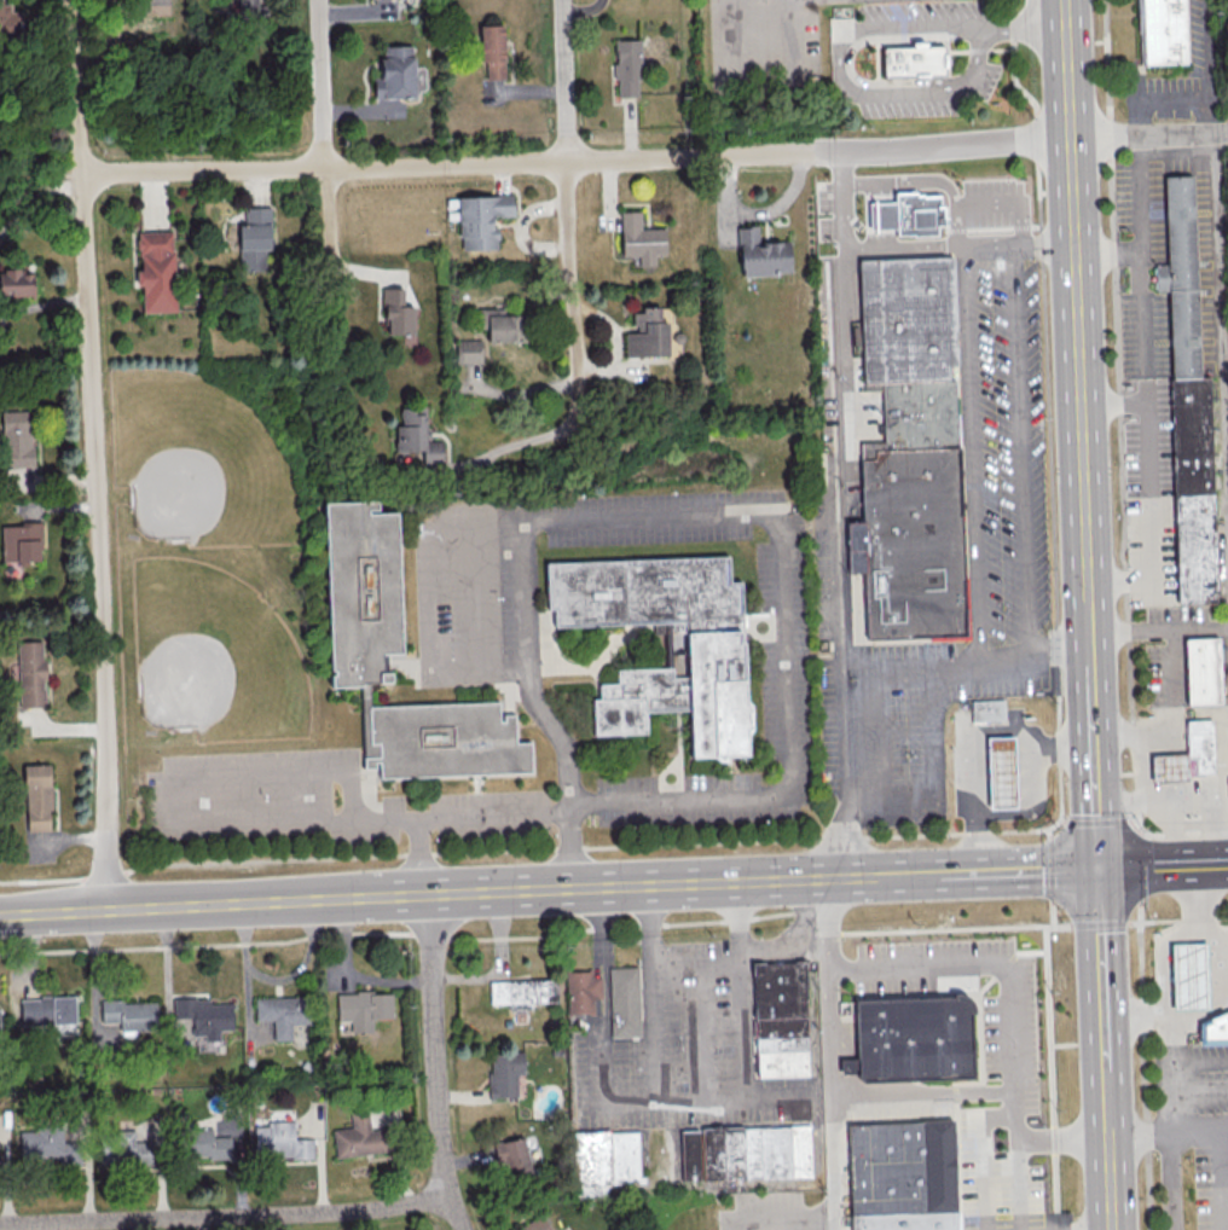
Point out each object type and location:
building: (153, 1)
building: (250, 8)
building: (8, 21)
road: (917, 27)
road: (1038, 29)
road: (997, 30)
building: (1165, 31)
building: (492, 50)
building: (914, 60)
road: (1209, 66)
building: (626, 68)
building: (398, 74)
road: (767, 83)
road: (904, 92)
road: (1152, 98)
road: (324, 117)
road: (654, 158)
road: (40, 175)
road: (927, 180)
road: (1136, 195)
road: (35, 202)
road: (1008, 203)
road: (569, 214)
building: (910, 219)
building: (481, 220)
building: (254, 238)
building: (641, 239)
road: (1044, 244)
road: (991, 246)
road: (904, 248)
building: (761, 254)
building: (156, 271)
building: (18, 284)
road: (1140, 292)
road: (1076, 300)
road: (42, 306)
building: (396, 313)
building: (502, 325)
building: (647, 335)
road: (1220, 335)
building: (468, 350)
building: (1188, 400)
road: (1047, 413)
road: (1120, 418)
building: (416, 435)
building: (16, 439)
road: (506, 447)
road: (1023, 449)
road: (972, 453)
road: (92, 454)
building: (914, 454)
park: (201, 462)
road: (1148, 489)
road: (839, 514)
building: (21, 543)
park: (214, 555)
building: (365, 585)
road: (784, 591)
road: (429, 605)
road: (1158, 629)
road: (1089, 631)
building: (717, 648)
road: (1033, 652)
park: (215, 655)
road: (913, 671)
building: (1205, 672)
building: (30, 673)
building: (987, 713)
road: (1170, 715)
road: (543, 718)
road: (971, 732)
road: (1170, 739)
building: (1201, 747)
road: (1095, 764)
building: (1172, 768)
gas station: (1172, 768)
road: (1172, 768)
building: (1004, 773)
gas station: (1004, 773)
road: (933, 777)
road: (1174, 791)
building: (37, 796)
road: (1166, 801)
road: (1033, 808)
road: (534, 810)
road: (1212, 812)
road: (1099, 823)
road: (180, 825)
road: (1183, 834)
road: (526, 851)
road: (1164, 864)
traffic signals: (1100, 866)
road: (1141, 866)
road: (1052, 869)
road: (1013, 872)
road: (892, 877)
road: (641, 884)
road: (213, 904)
road: (1140, 911)
road: (1052, 913)
road: (1134, 922)
road: (1100, 923)
road: (540, 936)
road: (805, 944)
road: (1162, 956)
road: (1215, 958)
parking lot: (1223, 962)
road: (919, 963)
road: (1102, 968)
building: (1193, 976)
gas station: (1193, 976)
building: (581, 991)
building: (522, 992)
building: (626, 1003)
building: (363, 1008)
building: (47, 1009)
building: (282, 1013)
building: (129, 1014)
building: (204, 1015)
building: (783, 1019)
road: (1142, 1031)
building: (1216, 1031)
building: (0, 1033)
road: (741, 1033)
building: (916, 1040)
road: (435, 1062)
road: (1198, 1062)
building: (504, 1073)
road: (1049, 1078)
parking lot: (1209, 1078)
road: (1198, 1091)
road: (876, 1092)
road: (630, 1103)
road: (1108, 1103)
road: (994, 1118)
road: (1169, 1120)
road: (1220, 1121)
road: (1212, 1132)
building: (358, 1137)
building: (279, 1141)
building: (205, 1144)
building: (46, 1147)
building: (128, 1148)
building: (748, 1154)
building: (511, 1159)
building: (607, 1159)
road: (1019, 1160)
road: (834, 1161)
building: (905, 1176)
parking lot: (1211, 1183)
road: (1111, 1184)
road: (227, 1216)
road: (816, 1219)
road: (758, 1222)
building: (535, 1224)
road: (795, 1225)

